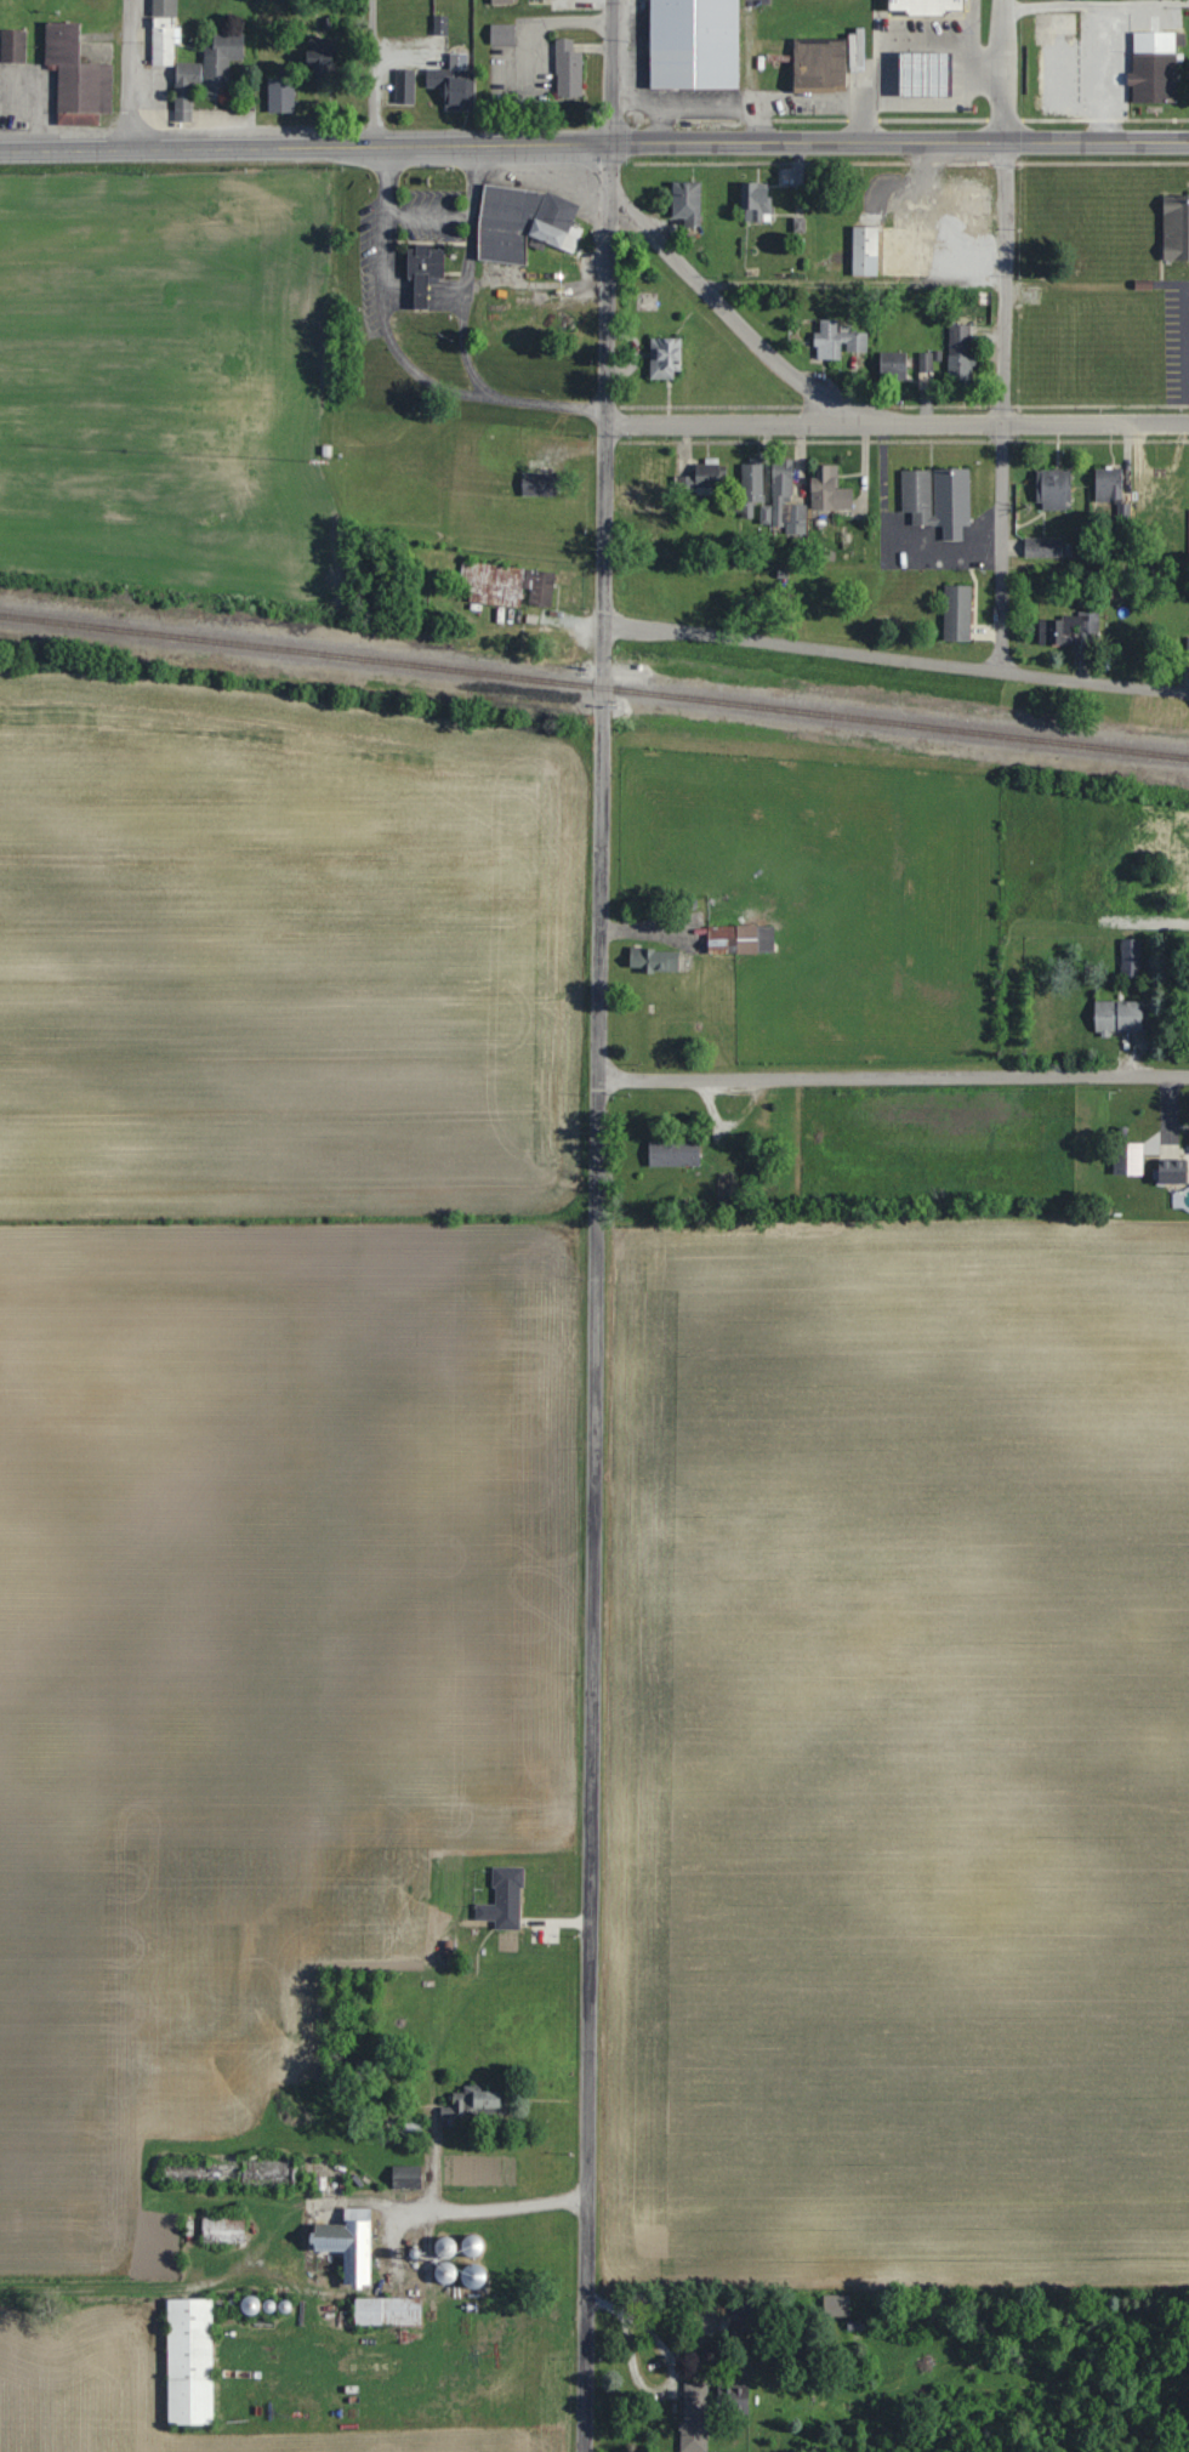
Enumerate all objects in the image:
building: (542, 0)
building: (501, 1)
road: (1098, 5)
building: (926, 7)
building: (164, 32)
building: (1064, 32)
building: (502, 34)
building: (638, 34)
building: (694, 45)
building: (13, 46)
building: (322, 61)
building: (820, 66)
building: (1154, 68)
building: (568, 69)
road: (614, 70)
road: (374, 72)
road: (1116, 72)
road: (130, 73)
building: (207, 73)
building: (76, 75)
building: (925, 75)
building: (1052, 75)
building: (404, 86)
building: (455, 87)
building: (281, 96)
road: (901, 141)
road: (307, 144)
building: (688, 203)
building: (756, 203)
road: (1006, 210)
road: (468, 221)
building: (524, 222)
building: (1176, 227)
building: (864, 250)
building: (931, 250)
building: (423, 271)
road: (853, 280)
road: (382, 302)
road: (462, 313)
building: (837, 340)
road: (1188, 345)
building: (960, 353)
building: (666, 358)
building: (893, 365)
road: (547, 408)
road: (610, 414)
road: (855, 416)
road: (736, 421)
building: (654, 479)
building: (700, 482)
building: (539, 483)
building: (1108, 484)
building: (752, 485)
building: (829, 489)
building: (1053, 489)
building: (786, 494)
building: (938, 499)
building: (1167, 511)
road: (1003, 545)
building: (1043, 547)
building: (507, 585)
building: (957, 611)
building: (1070, 632)
road: (898, 655)
railway: (594, 684)
building: (1184, 848)
road: (602, 882)
building: (1119, 886)
building: (741, 940)
building: (1131, 957)
building: (654, 960)
building: (1120, 1015)
road: (893, 1076)
road: (597, 1144)
building: (675, 1153)
building: (1172, 1176)
road: (590, 1831)
building: (505, 1900)
building: (369, 2070)
building: (477, 2105)
building: (198, 2172)
building: (269, 2173)
building: (406, 2177)
road: (491, 2214)
building: (223, 2230)
building: (348, 2243)
building: (472, 2245)
building: (387, 2311)
building: (190, 2361)
building: (695, 2417)

